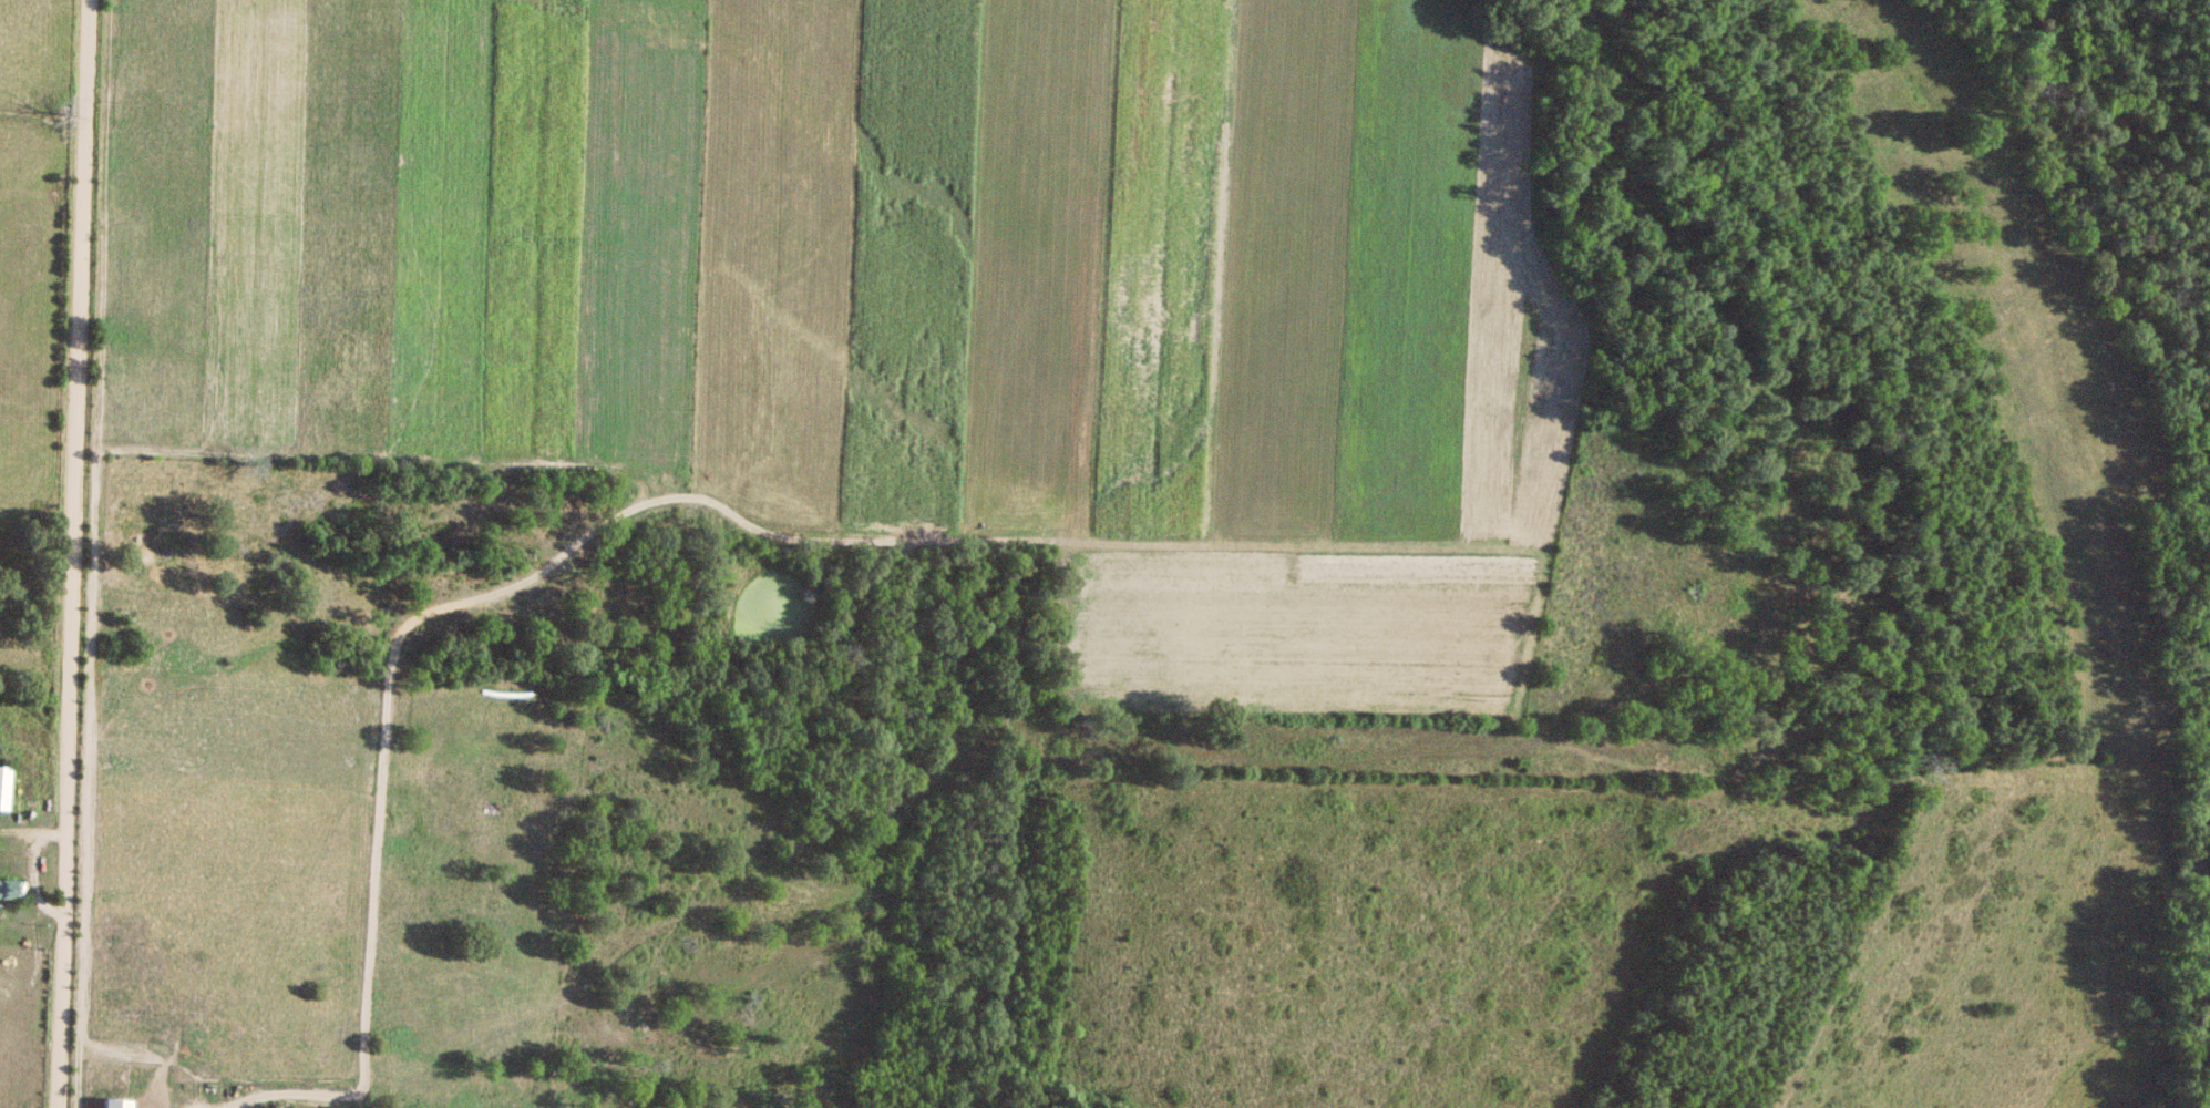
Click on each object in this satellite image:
road: (75, 554)
building: (6, 789)
building: (10, 891)
building: (120, 1105)

